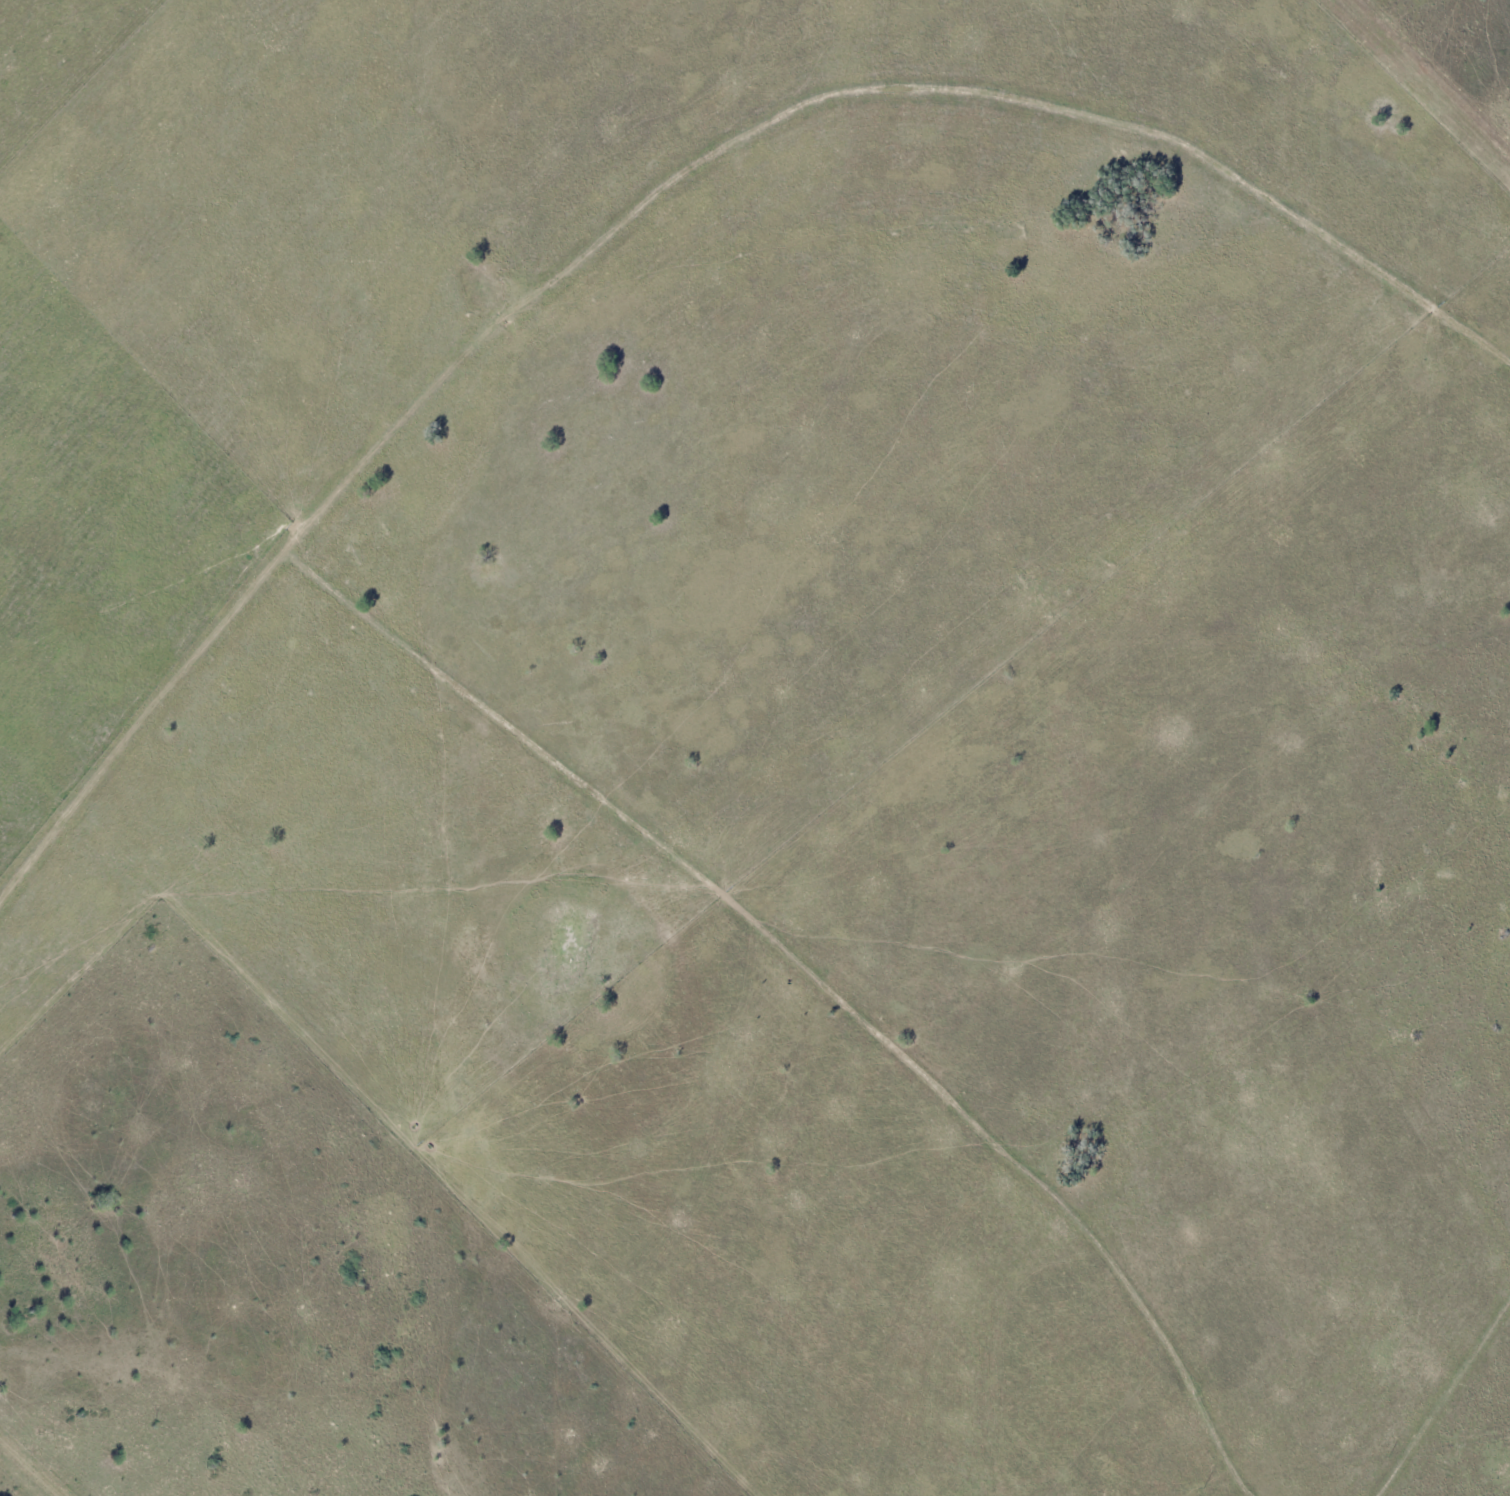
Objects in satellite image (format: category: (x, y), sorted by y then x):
road: (18, 1478)

